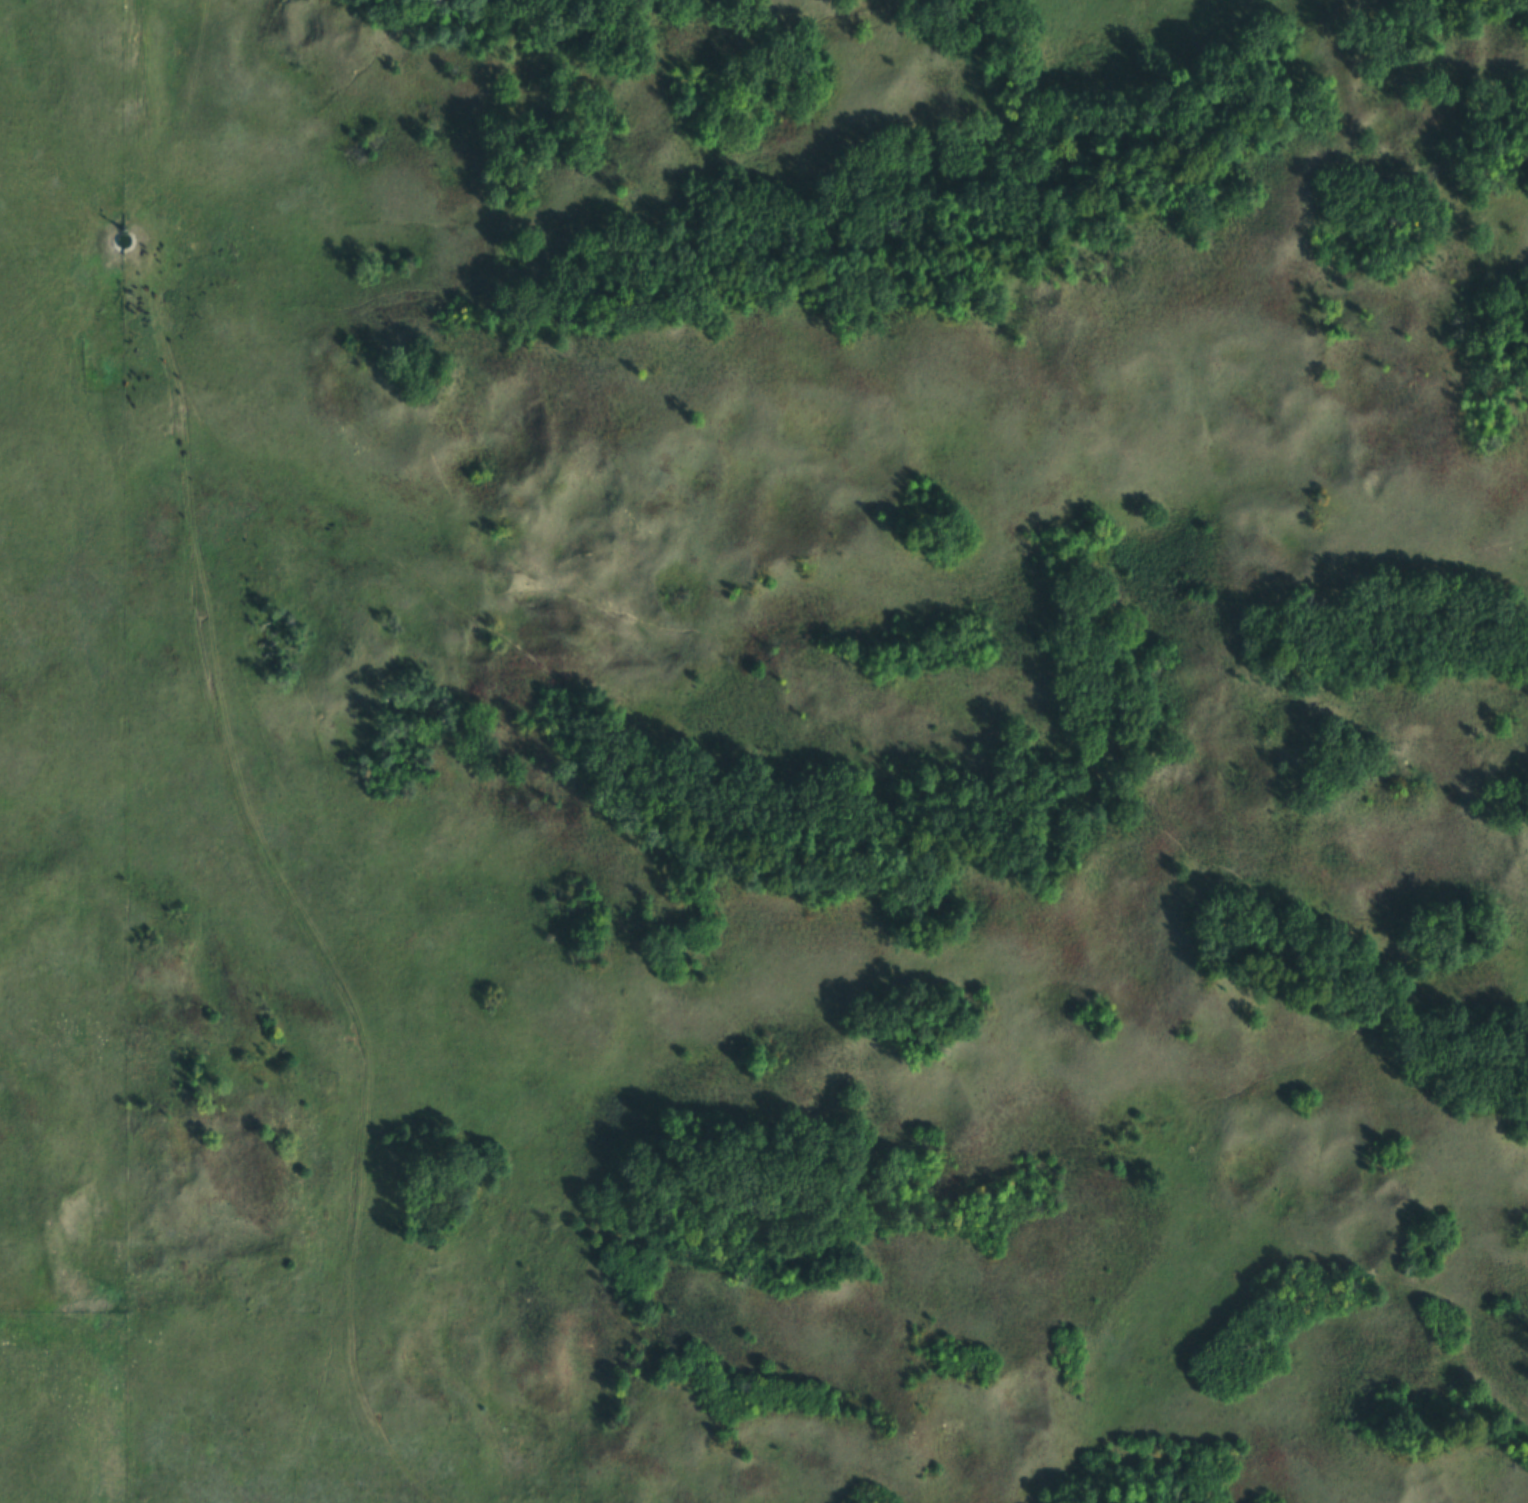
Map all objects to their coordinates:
road: (232, 774)

